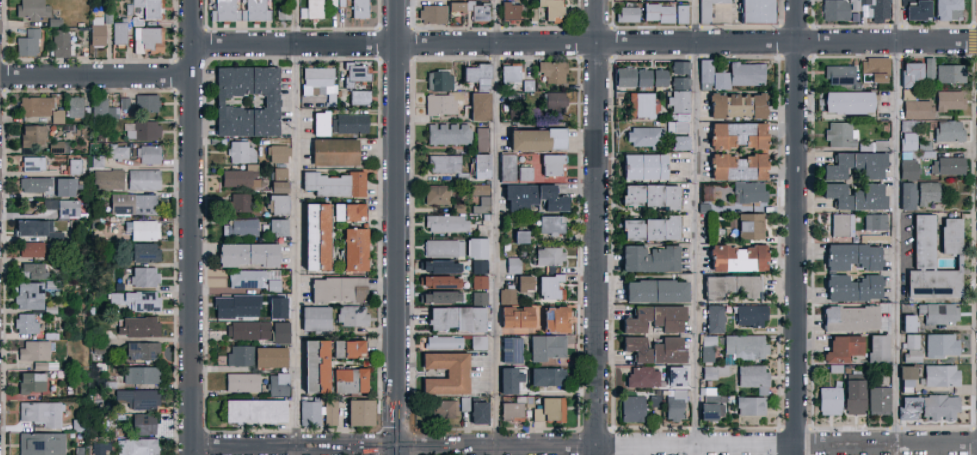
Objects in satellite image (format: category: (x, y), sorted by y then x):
building: (658, 0)
building: (147, 8)
building: (30, 9)
building: (310, 9)
building: (358, 9)
building: (458, 9)
building: (709, 9)
building: (915, 9)
building: (239, 10)
building: (945, 10)
building: (549, 11)
building: (836, 11)
building: (511, 12)
building: (758, 12)
building: (282, 13)
building: (481, 14)
building: (626, 14)
building: (659, 14)
building: (433, 15)
building: (682, 15)
building: (455, 18)
road: (497, 21)
road: (696, 21)
road: (295, 22)
building: (96, 30)
building: (118, 33)
building: (148, 38)
road: (584, 42)
building: (26, 43)
building: (58, 43)
building: (873, 68)
building: (927, 69)
building: (551, 71)
building: (474, 72)
building: (355, 73)
building: (509, 73)
building: (948, 73)
building: (730, 74)
building: (909, 74)
building: (678, 75)
building: (838, 75)
road: (97, 76)
building: (639, 77)
building: (436, 81)
building: (319, 82)
building: (526, 85)
building: (358, 97)
building: (950, 99)
building: (554, 100)
building: (244, 101)
building: (678, 101)
building: (846, 102)
building: (123, 103)
building: (145, 103)
building: (440, 103)
building: (639, 104)
building: (33, 106)
building: (71, 106)
building: (478, 106)
building: (713, 106)
building: (743, 106)
building: (98, 107)
building: (914, 109)
building: (112, 112)
building: (55, 116)
building: (677, 117)
building: (352, 122)
building: (321, 123)
building: (675, 127)
building: (142, 130)
building: (947, 130)
building: (447, 134)
building: (839, 134)
building: (30, 135)
building: (735, 135)
building: (642, 136)
building: (481, 138)
building: (533, 139)
building: (678, 143)
building: (54, 146)
building: (867, 147)
building: (337, 151)
building: (117, 152)
building: (240, 152)
building: (275, 153)
building: (147, 154)
building: (907, 156)
building: (31, 163)
building: (443, 163)
building: (550, 164)
building: (74, 166)
building: (480, 166)
building: (642, 166)
building: (853, 166)
building: (945, 166)
building: (736, 167)
building: (511, 169)
building: (278, 173)
building: (108, 178)
building: (235, 178)
building: (141, 179)
building: (34, 184)
building: (330, 184)
building: (64, 186)
building: (276, 187)
building: (479, 189)
building: (748, 192)
building: (926, 192)
building: (437, 195)
building: (647, 196)
building: (854, 196)
building: (905, 196)
building: (530, 197)
building: (238, 202)
building: (132, 203)
building: (275, 204)
building: (482, 205)
building: (57, 207)
building: (351, 212)
road: (398, 213)
building: (874, 221)
building: (448, 223)
building: (549, 224)
building: (841, 224)
building: (748, 226)
road: (193, 227)
building: (239, 227)
building: (275, 227)
road: (598, 227)
road: (795, 227)
road: (895, 227)
building: (27, 228)
building: (144, 229)
building: (647, 229)
building: (313, 232)
building: (54, 236)
building: (519, 236)
building: (948, 236)
building: (443, 248)
building: (474, 248)
road: (495, 248)
road: (696, 248)
building: (30, 249)
road: (295, 249)
building: (355, 249)
building: (144, 251)
building: (245, 254)
building: (547, 256)
building: (851, 256)
building: (646, 258)
building: (735, 258)
building: (512, 265)
building: (926, 265)
building: (437, 266)
building: (478, 266)
building: (30, 271)
building: (143, 276)
building: (253, 279)
building: (437, 282)
building: (478, 282)
building: (522, 282)
building: (550, 287)
building: (729, 287)
building: (851, 288)
building: (335, 290)
building: (654, 291)
building: (506, 295)
building: (26, 296)
building: (437, 297)
building: (478, 298)
building: (136, 300)
building: (241, 303)
building: (938, 313)
building: (749, 315)
building: (351, 316)
building: (454, 318)
building: (516, 318)
building: (714, 318)
building: (847, 318)
building: (312, 319)
building: (553, 319)
building: (652, 319)
building: (906, 323)
building: (23, 324)
building: (137, 326)
building: (258, 331)
building: (442, 342)
building: (476, 342)
building: (940, 345)
building: (545, 346)
building: (744, 346)
building: (707, 348)
building: (840, 348)
building: (876, 348)
building: (910, 348)
building: (344, 349)
building: (510, 349)
building: (141, 350)
building: (652, 350)
building: (32, 351)
building: (255, 356)
building: (314, 364)
building: (714, 371)
building: (504, 372)
building: (454, 373)
building: (140, 375)
building: (939, 375)
building: (546, 376)
building: (673, 376)
building: (642, 377)
building: (752, 377)
building: (905, 378)
building: (345, 381)
building: (241, 382)
building: (28, 383)
building: (277, 384)
building: (853, 397)
building: (135, 398)
building: (710, 398)
building: (654, 400)
building: (828, 400)
building: (878, 400)
building: (674, 405)
building: (748, 406)
building: (938, 407)
building: (631, 409)
building: (909, 409)
building: (444, 410)
building: (473, 410)
building: (548, 410)
building: (252, 411)
building: (510, 411)
building: (709, 411)
building: (329, 412)
building: (308, 413)
building: (357, 413)
building: (39, 414)
building: (142, 424)
road: (394, 426)
road: (886, 443)
building: (38, 444)
road: (696, 446)
building: (137, 447)
road: (505, 447)
building: (100, 448)
road: (284, 448)

